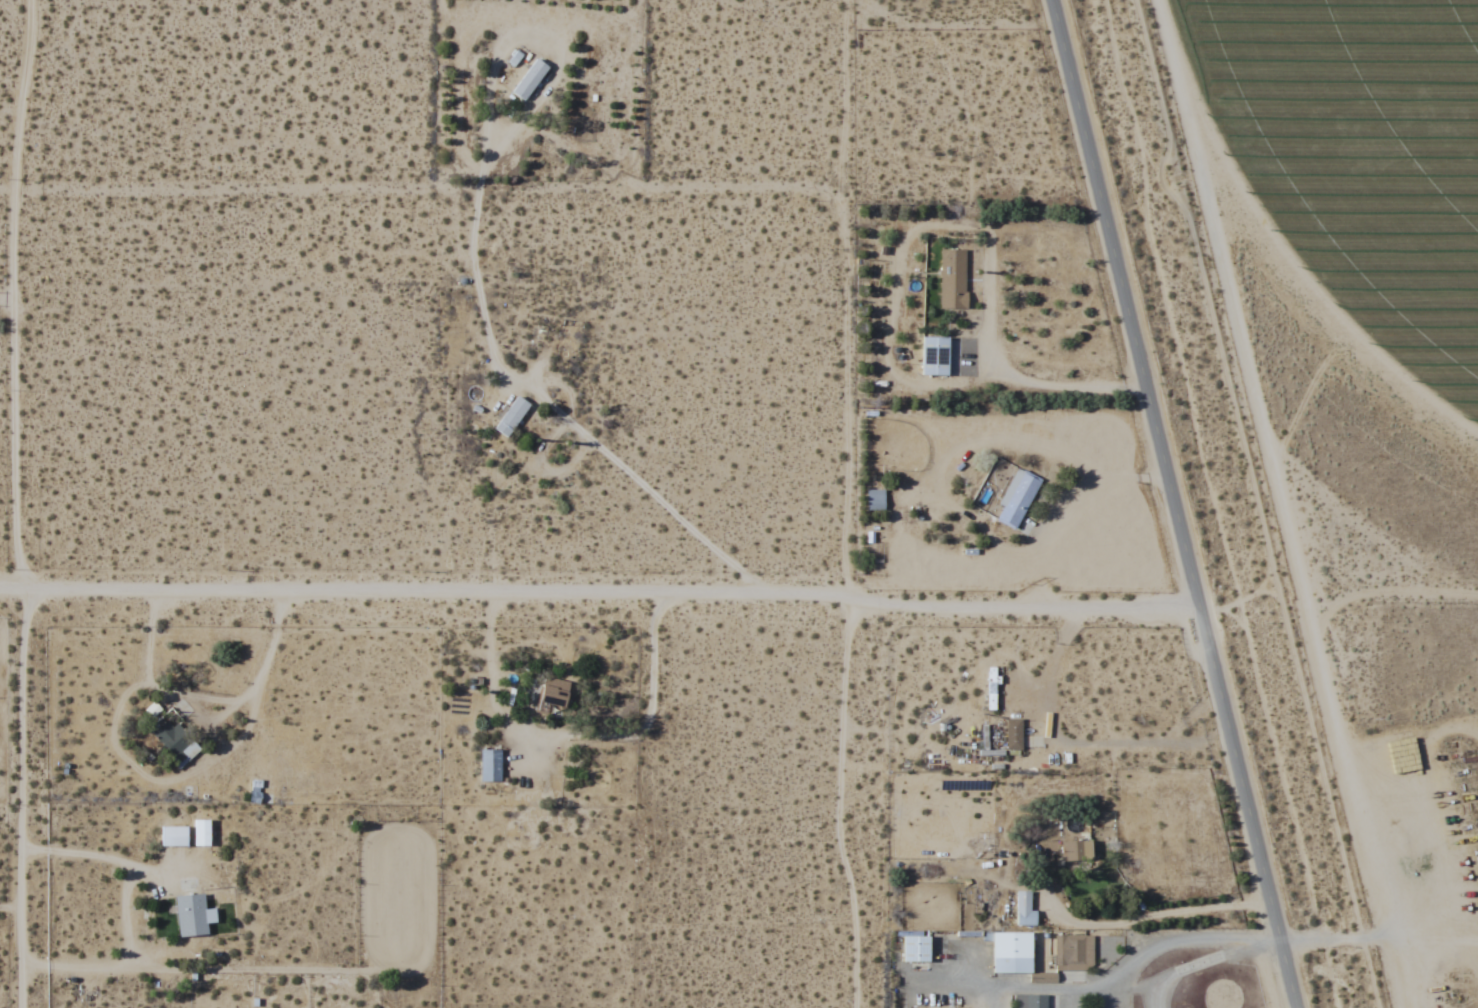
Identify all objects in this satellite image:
building: (530, 79)
crop: (1344, 166)
road: (7, 193)
building: (953, 279)
building: (940, 356)
building: (512, 416)
building: (1016, 497)
building: (875, 499)
road: (17, 503)
road: (1175, 503)
road: (600, 598)
building: (992, 688)
building: (555, 692)
building: (1014, 734)
building: (172, 740)
building: (490, 766)
road: (841, 806)
building: (174, 836)
building: (1076, 852)
building: (1025, 910)
building: (190, 915)
building: (916, 949)
building: (1073, 952)
building: (1021, 956)
building: (1034, 1001)

